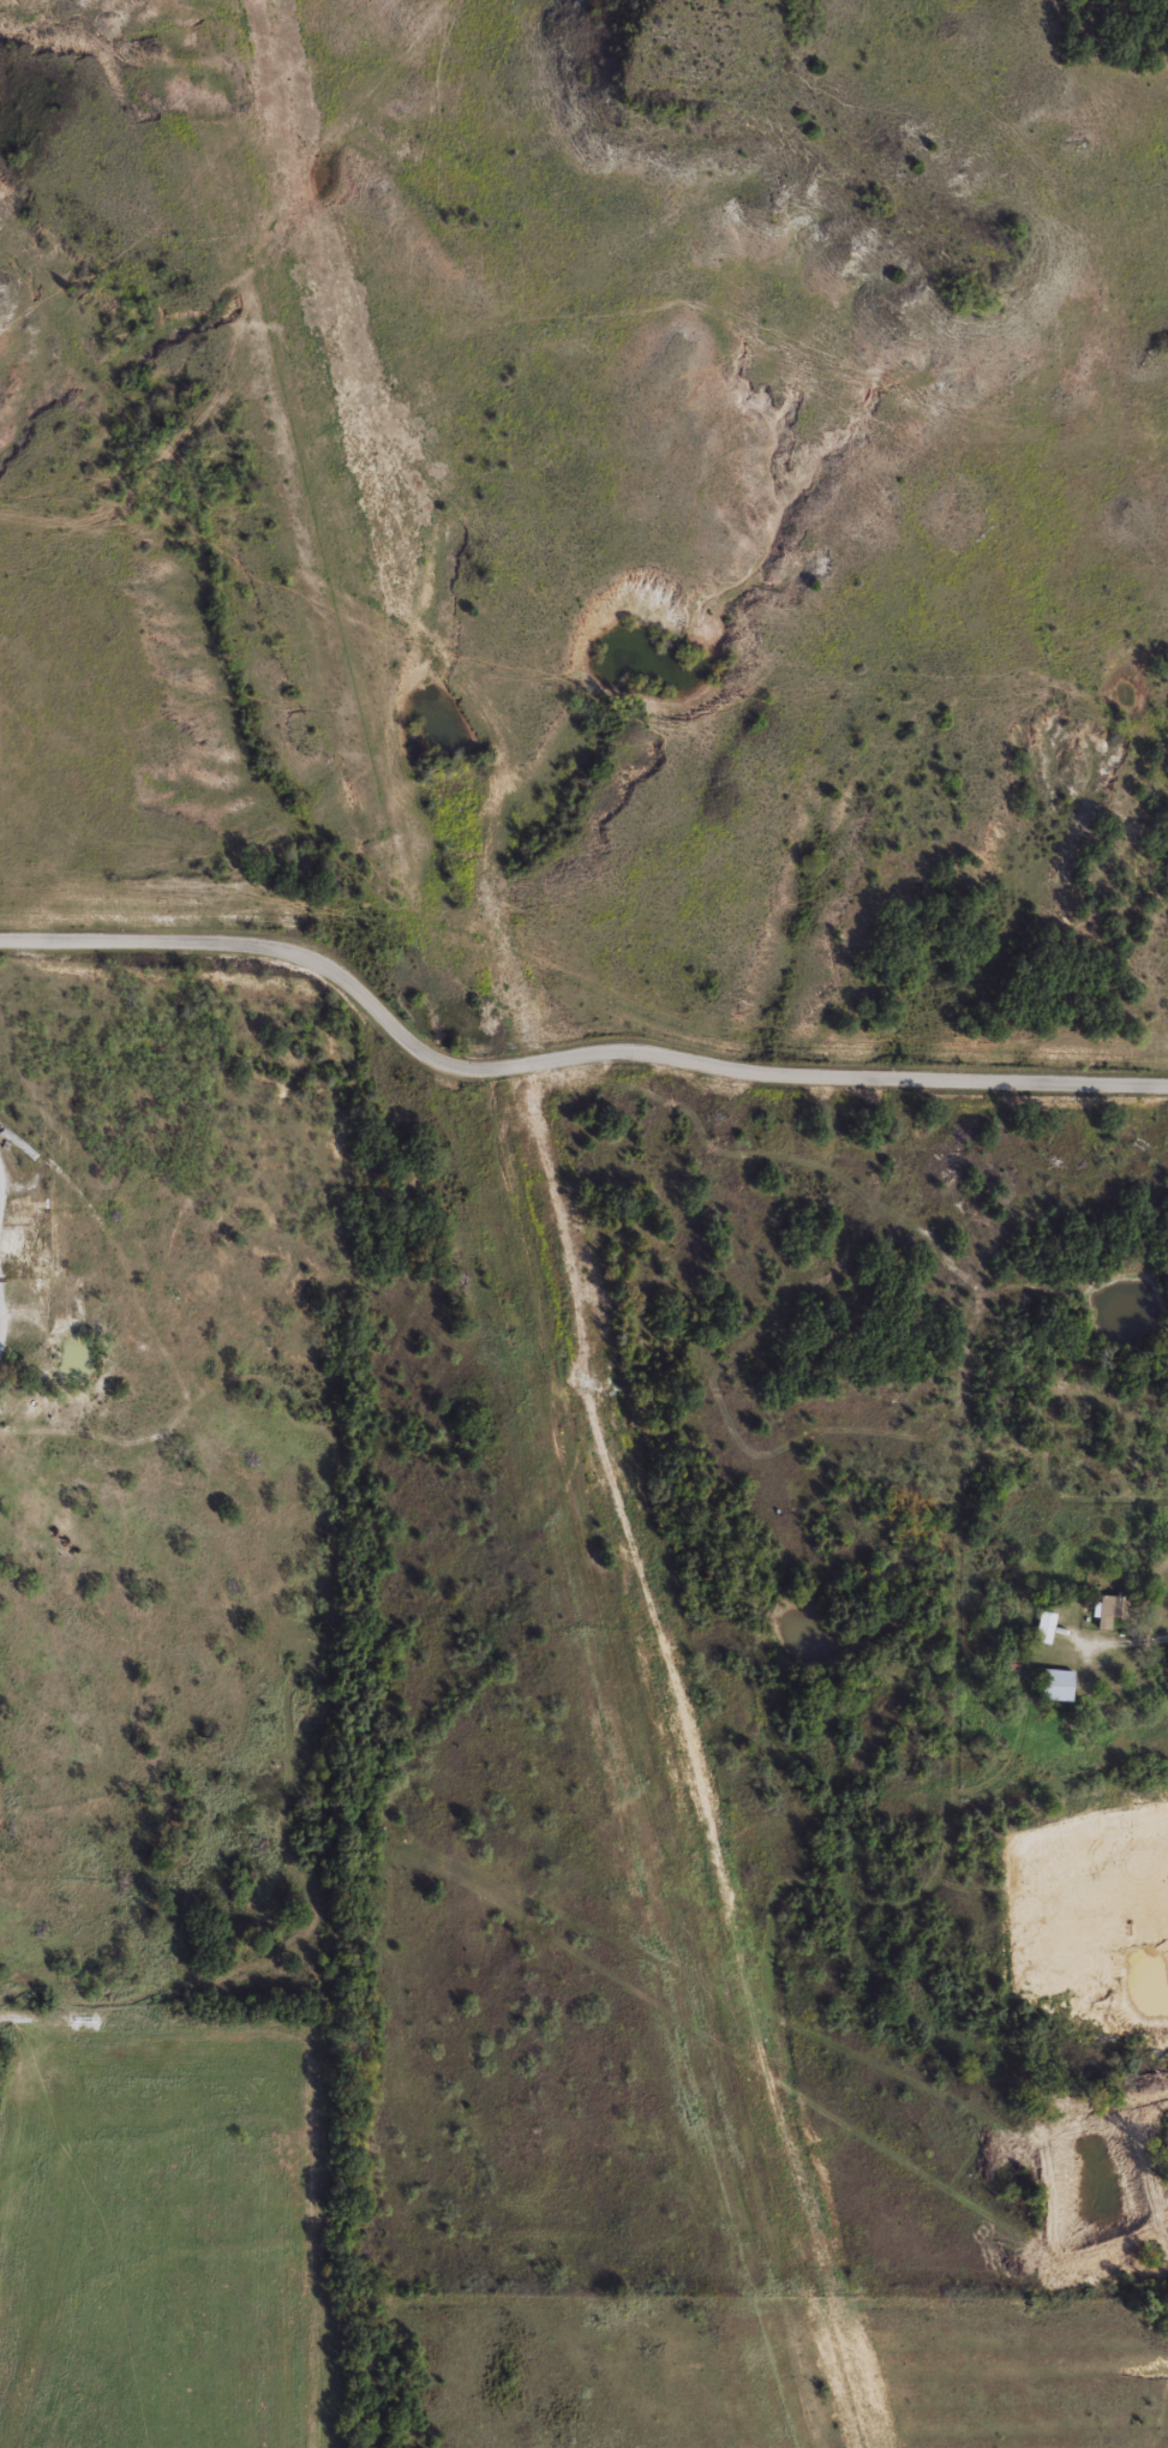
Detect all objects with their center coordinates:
road: (564, 1058)
road: (0, 1180)
road: (1, 1315)
building: (1110, 1610)
building: (1043, 1627)
road: (1127, 1644)
building: (1055, 1684)

